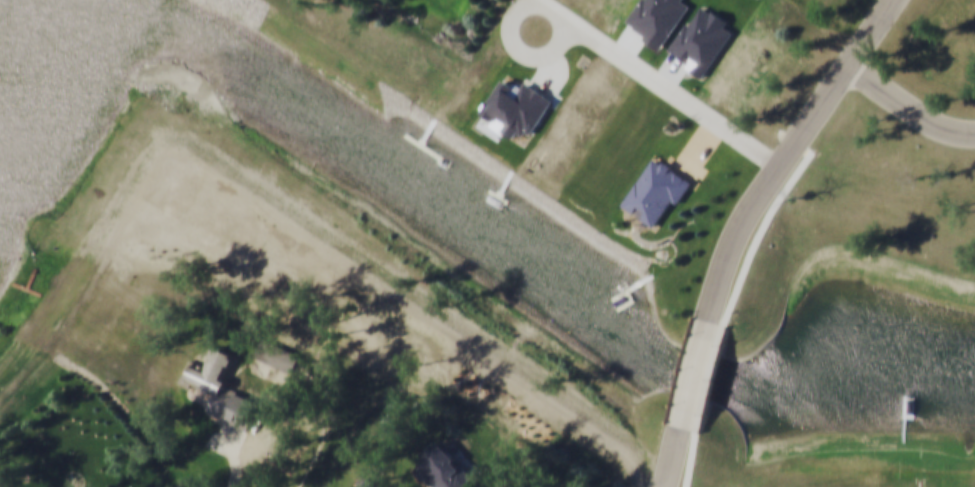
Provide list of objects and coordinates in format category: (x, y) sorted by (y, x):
road: (530, 15)
road: (661, 83)
road: (909, 107)
road: (700, 148)
road: (786, 152)
building: (658, 194)
road: (769, 218)
building: (278, 358)
road: (694, 373)
road: (712, 378)
building: (224, 393)
road: (233, 456)
road: (670, 456)
road: (692, 459)
building: (445, 470)
building: (366, 485)

